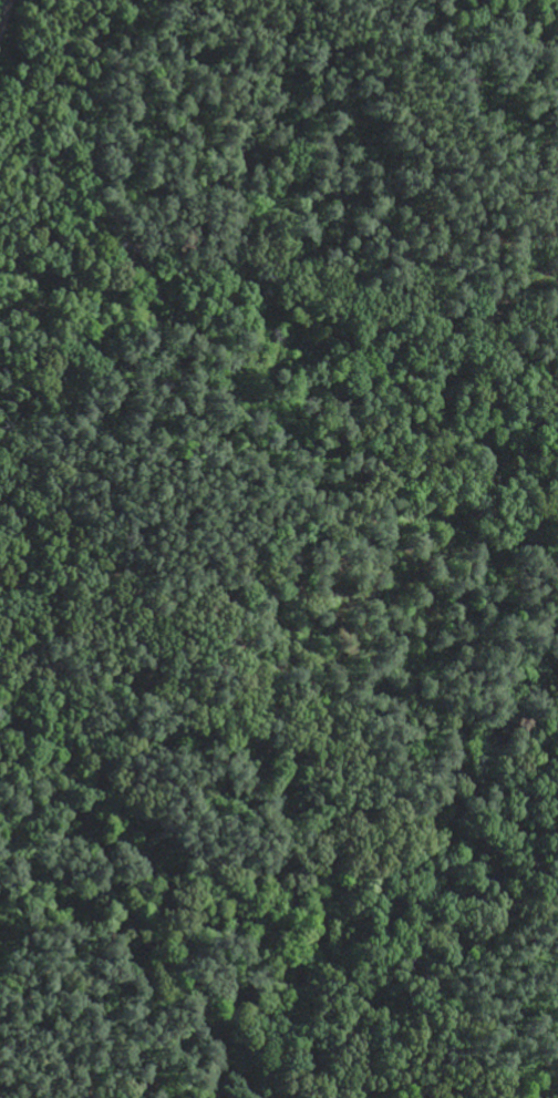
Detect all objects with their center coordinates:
road: (2, 8)

